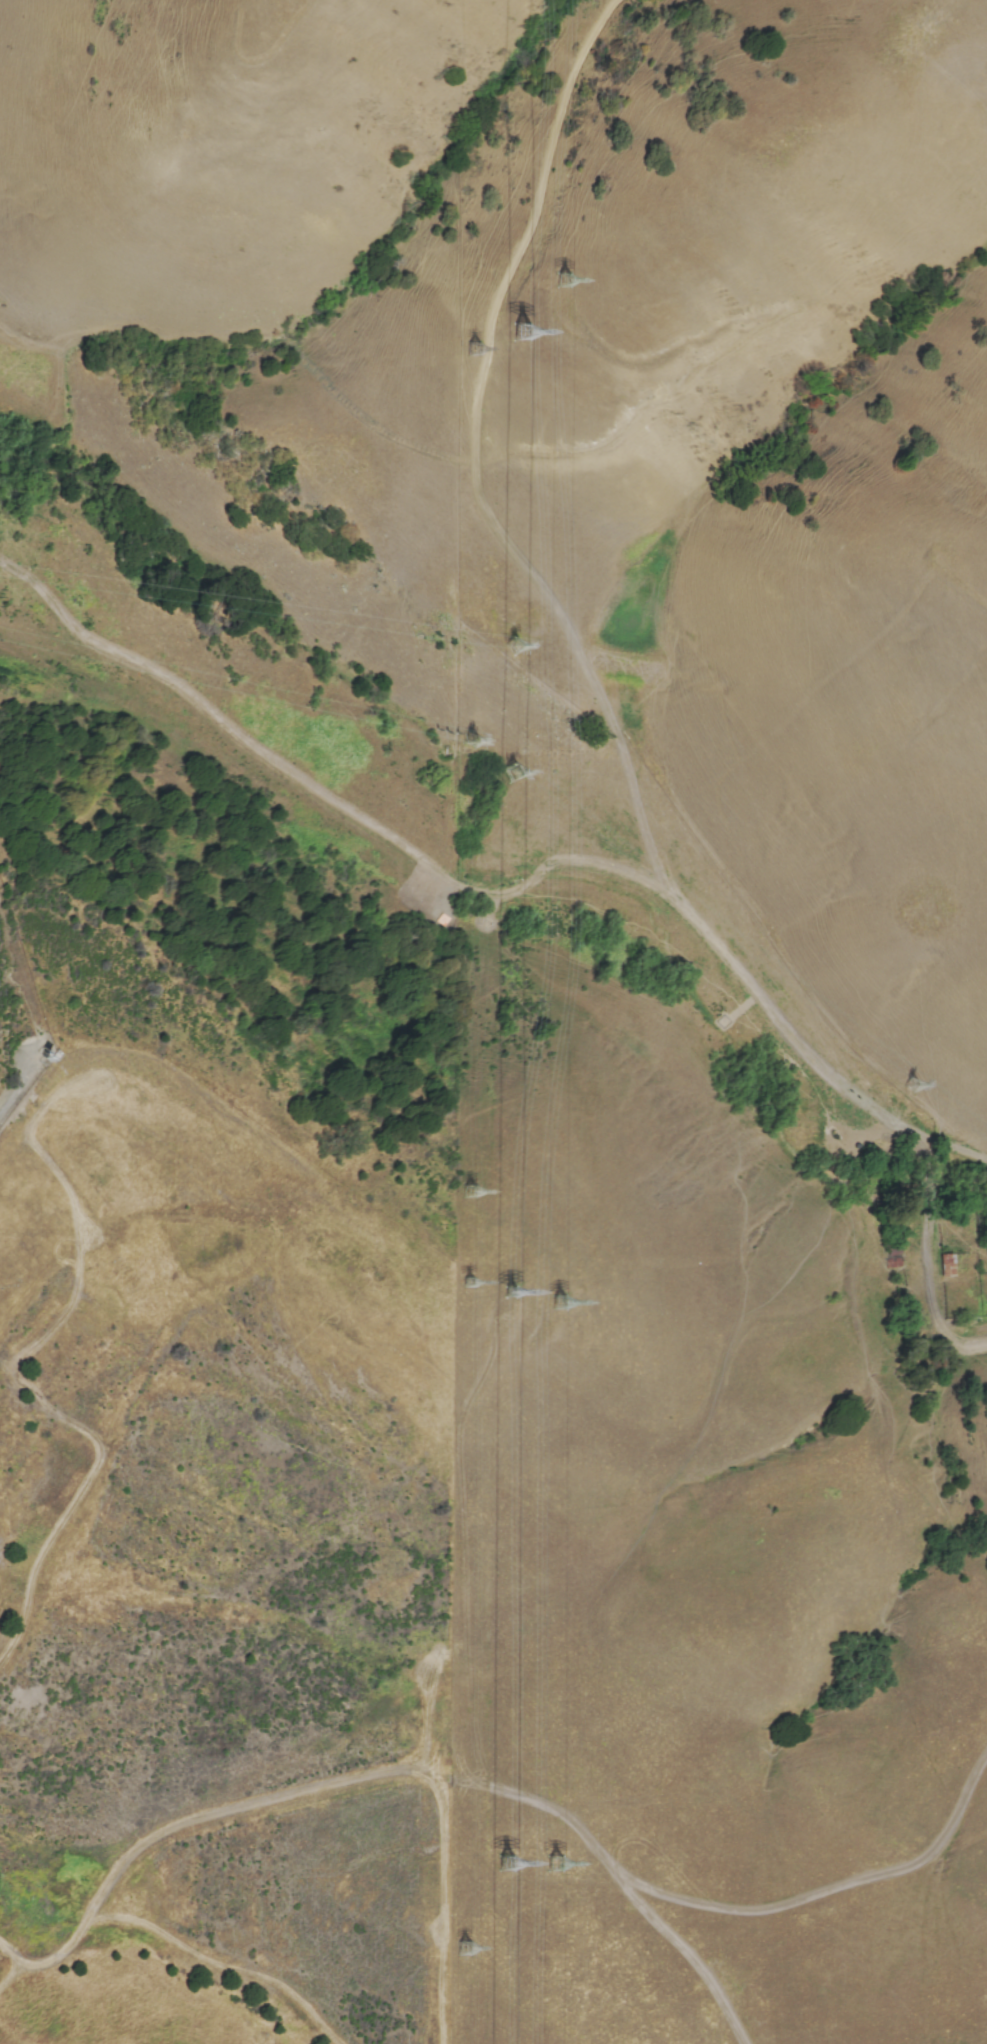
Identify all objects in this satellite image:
road: (542, 167)
power tower: (561, 280)
power tower: (526, 334)
power tower: (472, 350)
power tower: (513, 645)
power tower: (449, 731)
power tower: (474, 740)
power tower: (509, 772)
road: (511, 892)
road: (33, 1010)
power tower: (914, 1084)
power tower: (468, 1192)
road: (928, 1211)
road: (90, 1218)
building: (946, 1265)
power tower: (467, 1280)
power tower: (509, 1292)
power tower: (555, 1300)
road: (100, 1440)
road: (364, 1775)
power tower: (560, 1862)
power tower: (511, 1875)
power tower: (470, 1950)
road: (52, 1961)
road: (10, 1963)
road: (217, 1965)

